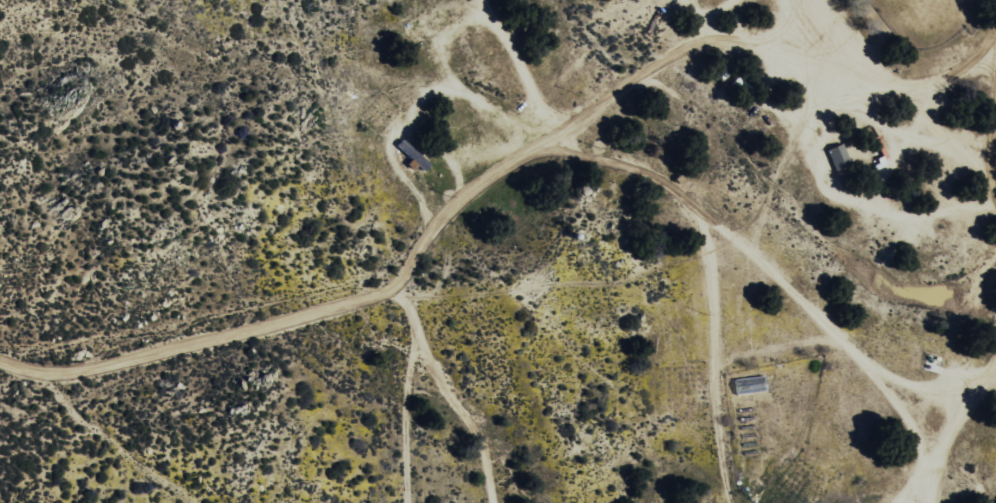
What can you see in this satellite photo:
building: (838, 157)

